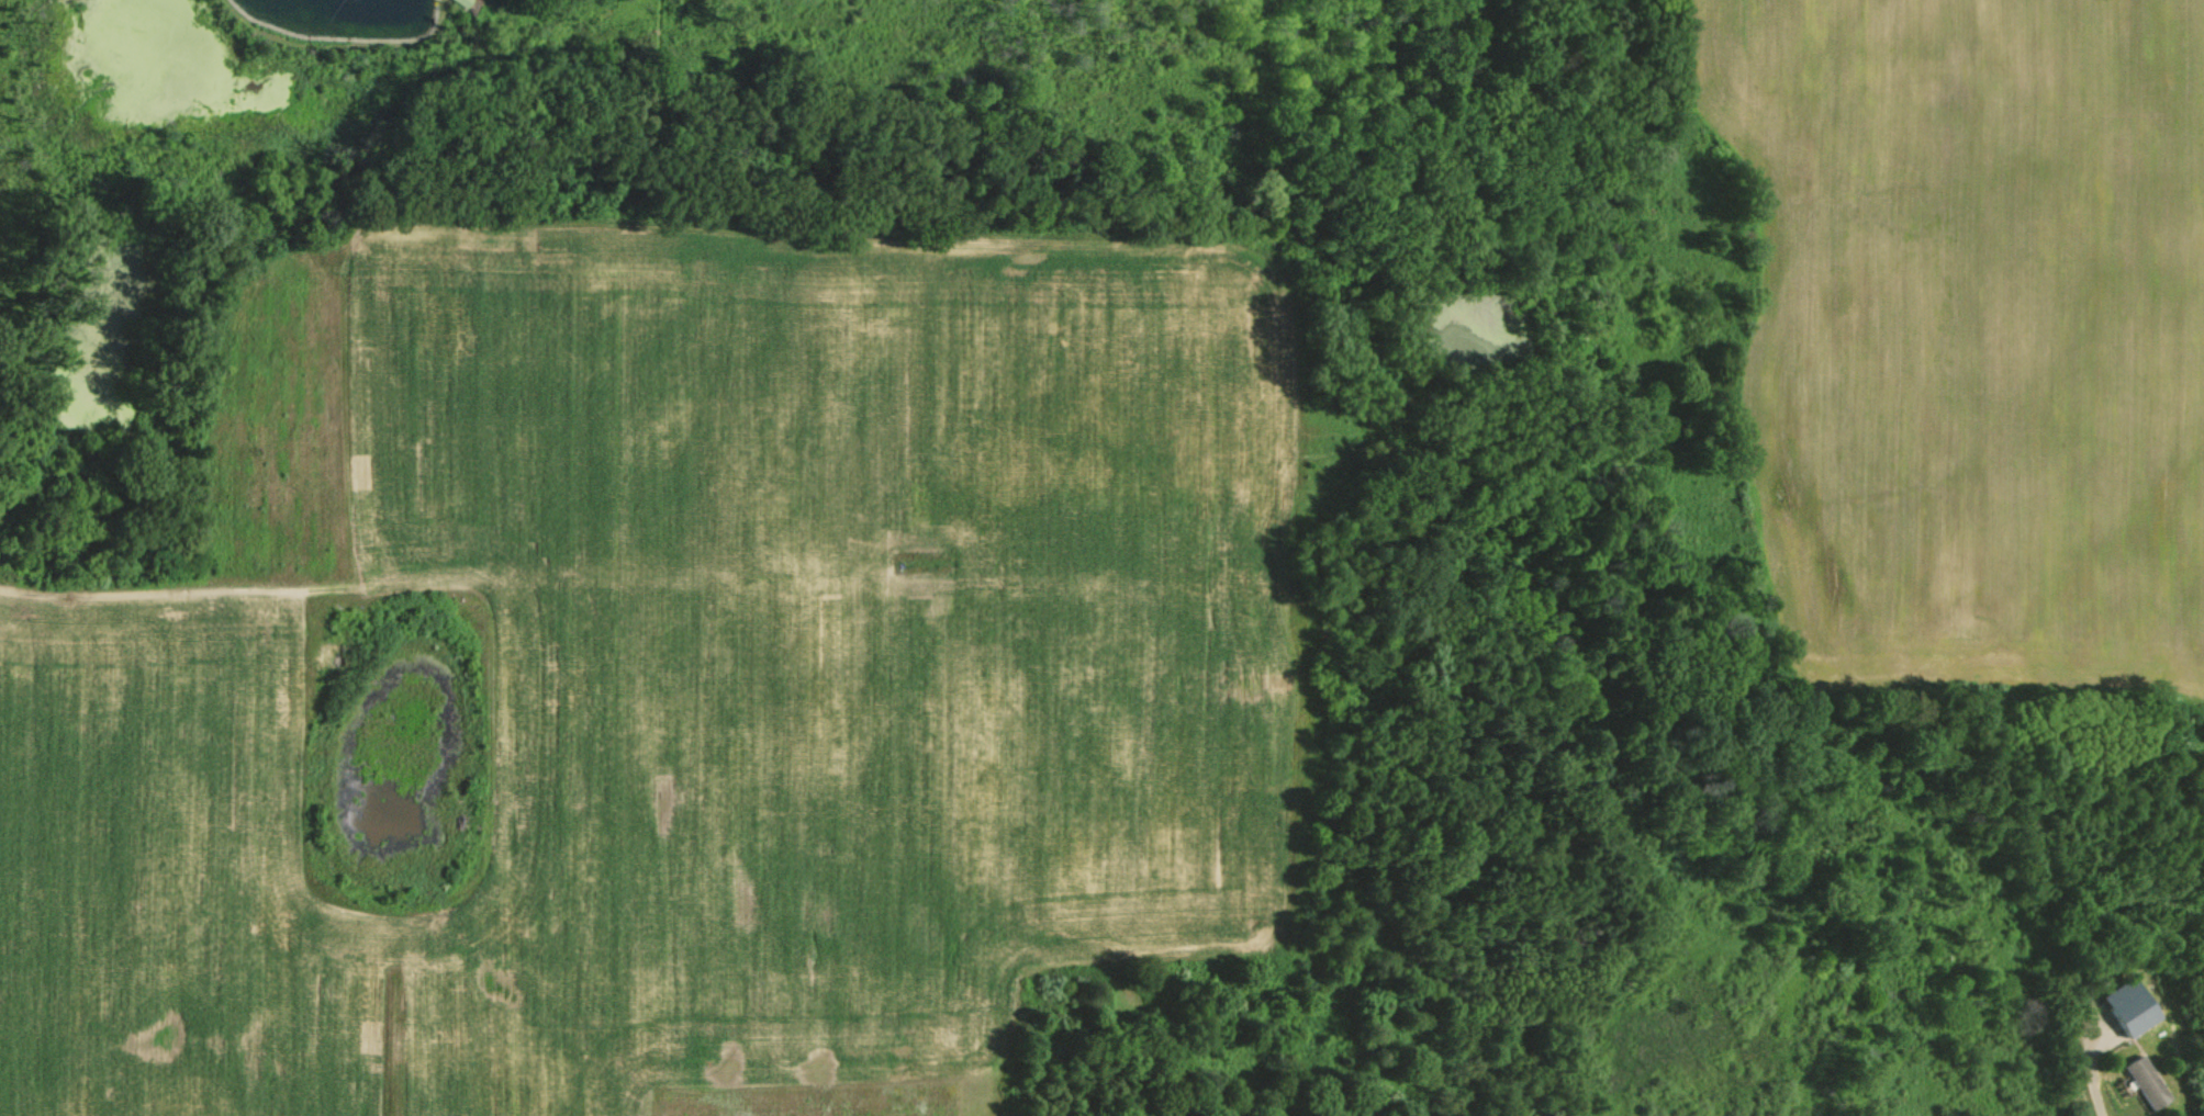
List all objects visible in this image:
building: (466, 2)
building: (2139, 1006)
road: (2102, 1071)
building: (2155, 1081)

